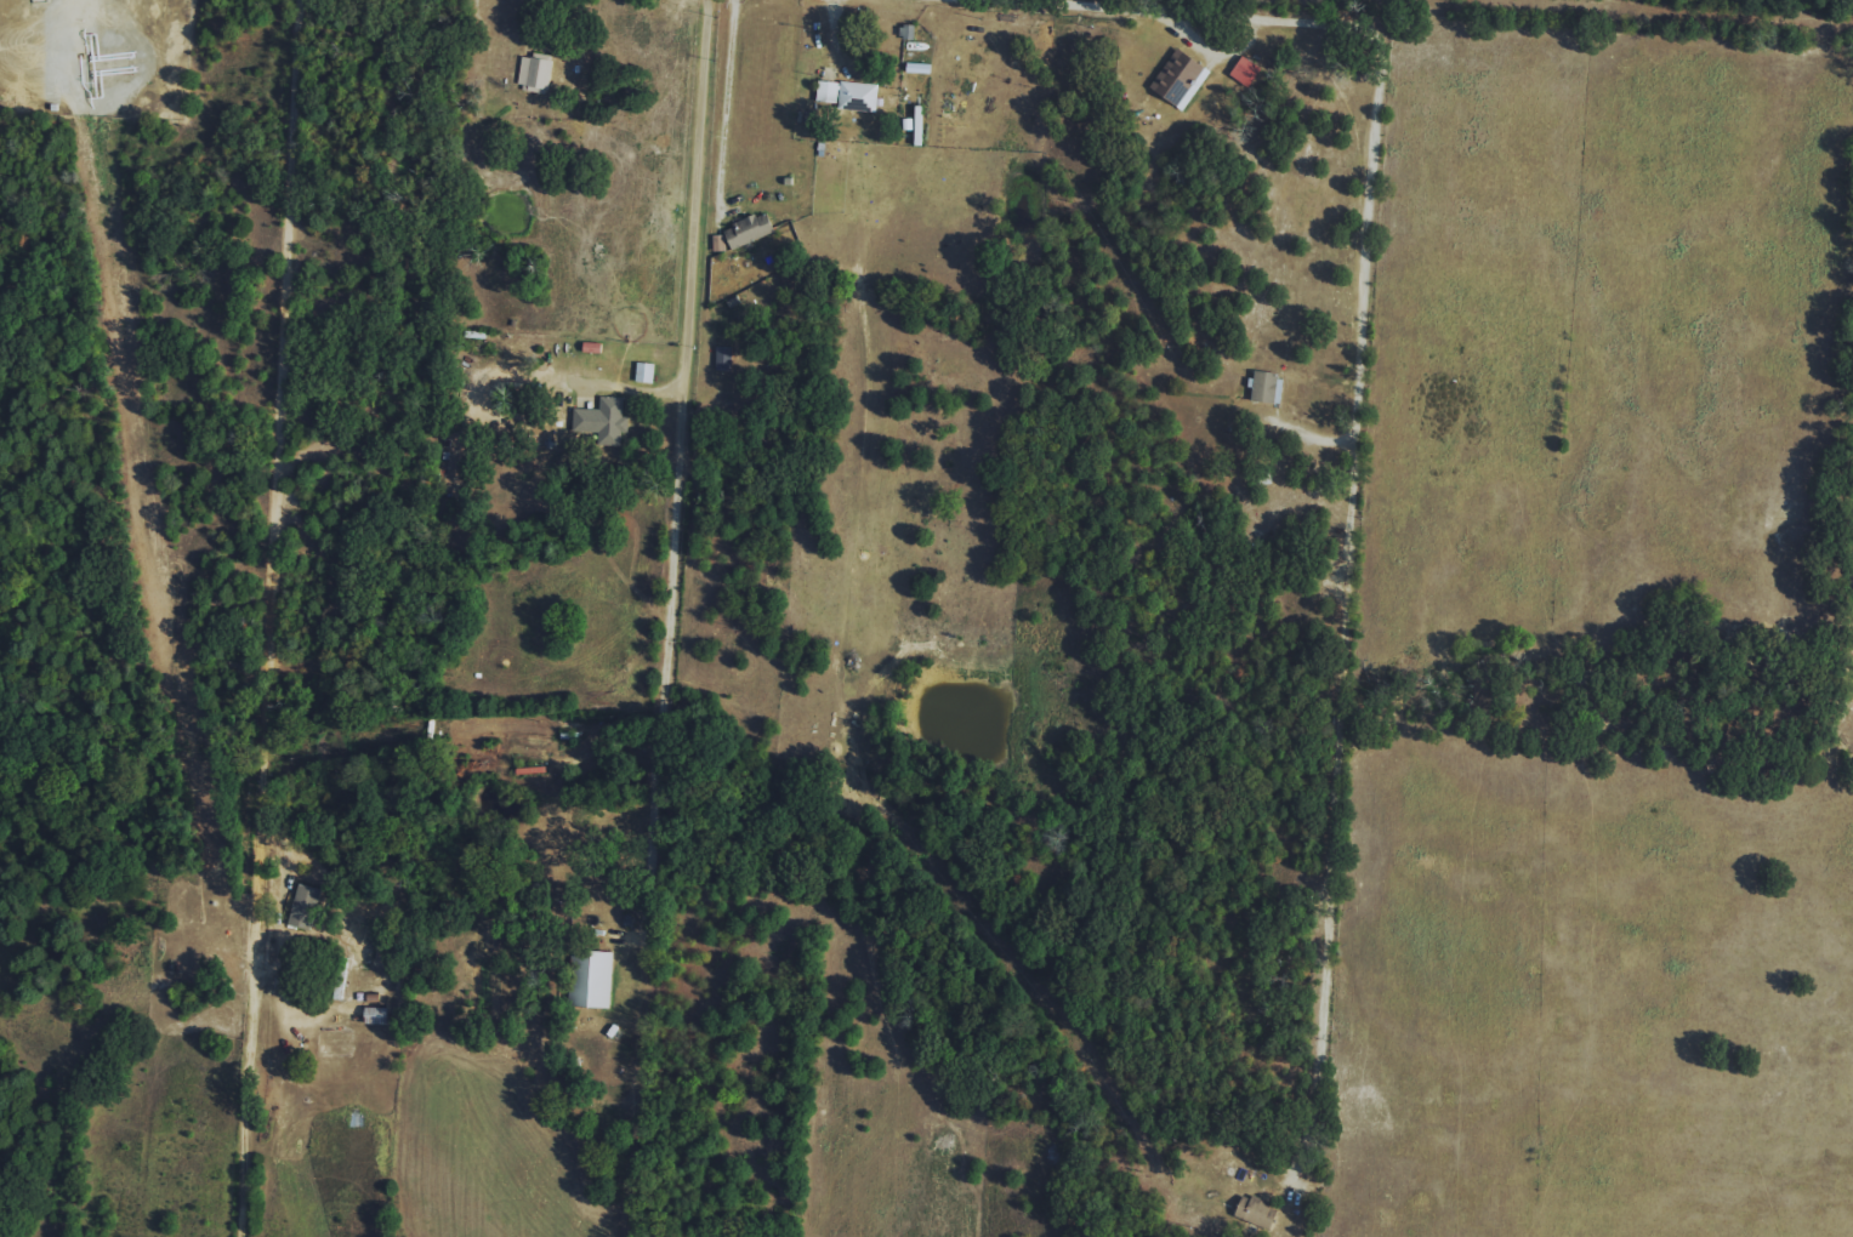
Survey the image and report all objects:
road: (1211, 12)
building: (1246, 72)
building: (1177, 75)
building: (846, 96)
road: (728, 108)
building: (750, 230)
building: (718, 243)
building: (723, 358)
building: (644, 372)
building: (1263, 386)
building: (603, 420)
road: (681, 547)
road: (1348, 599)
road: (231, 617)
building: (305, 906)
building: (591, 979)
building: (1256, 1212)

